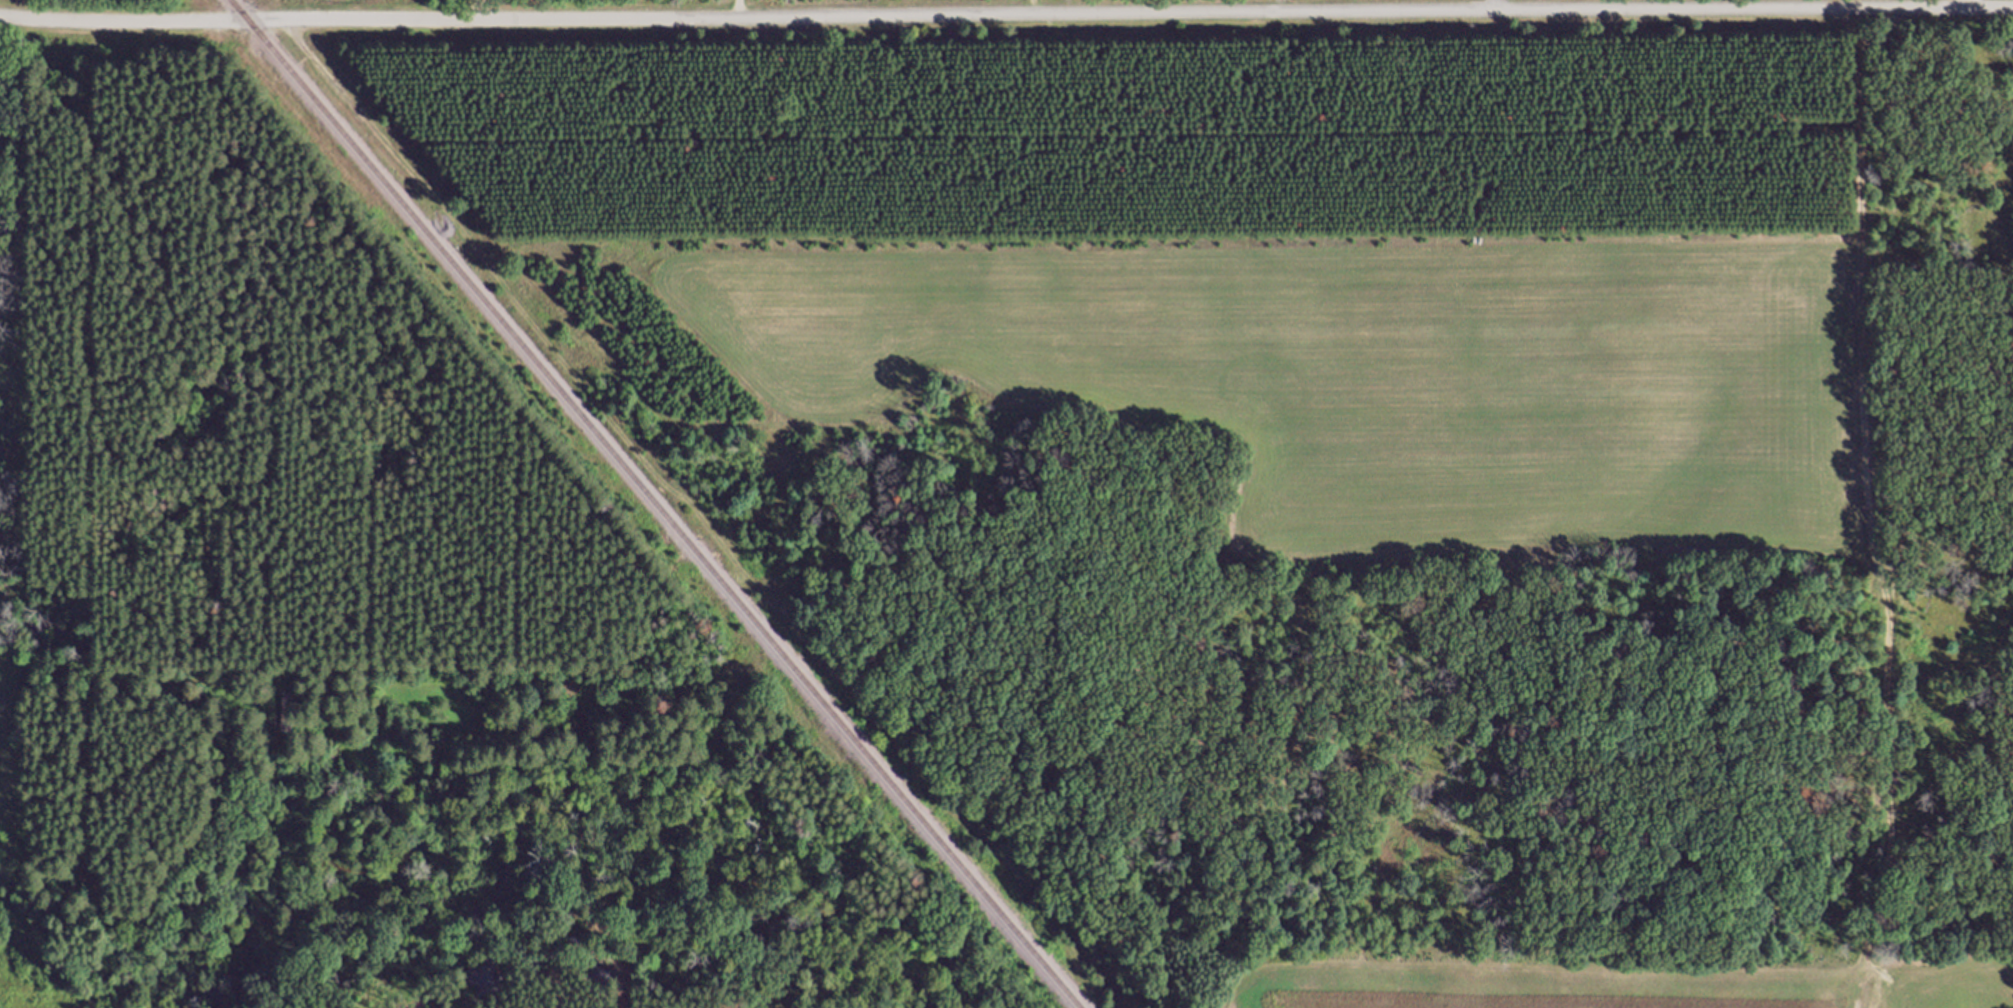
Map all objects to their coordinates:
road: (1006, 14)
road: (91, 237)
railway: (648, 504)

